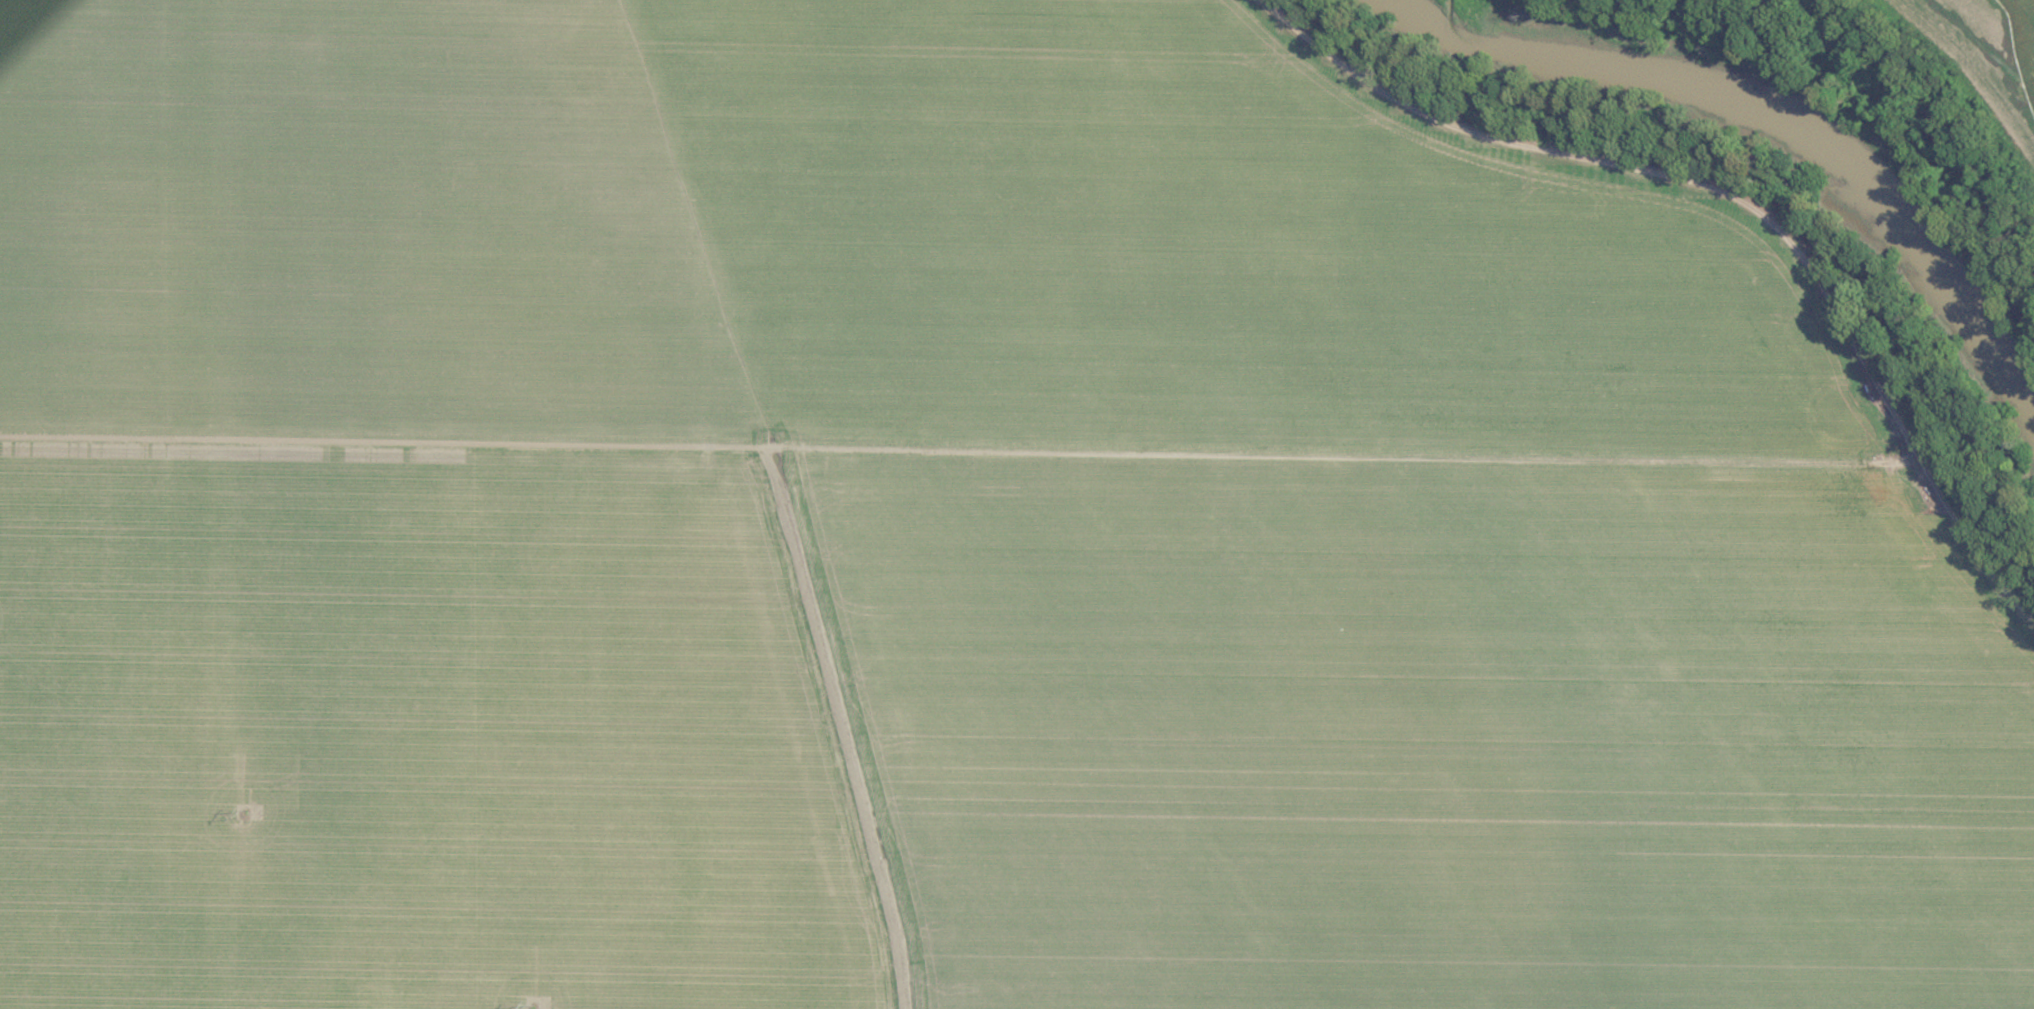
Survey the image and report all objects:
power tower: (243, 813)
power tower: (533, 1006)

